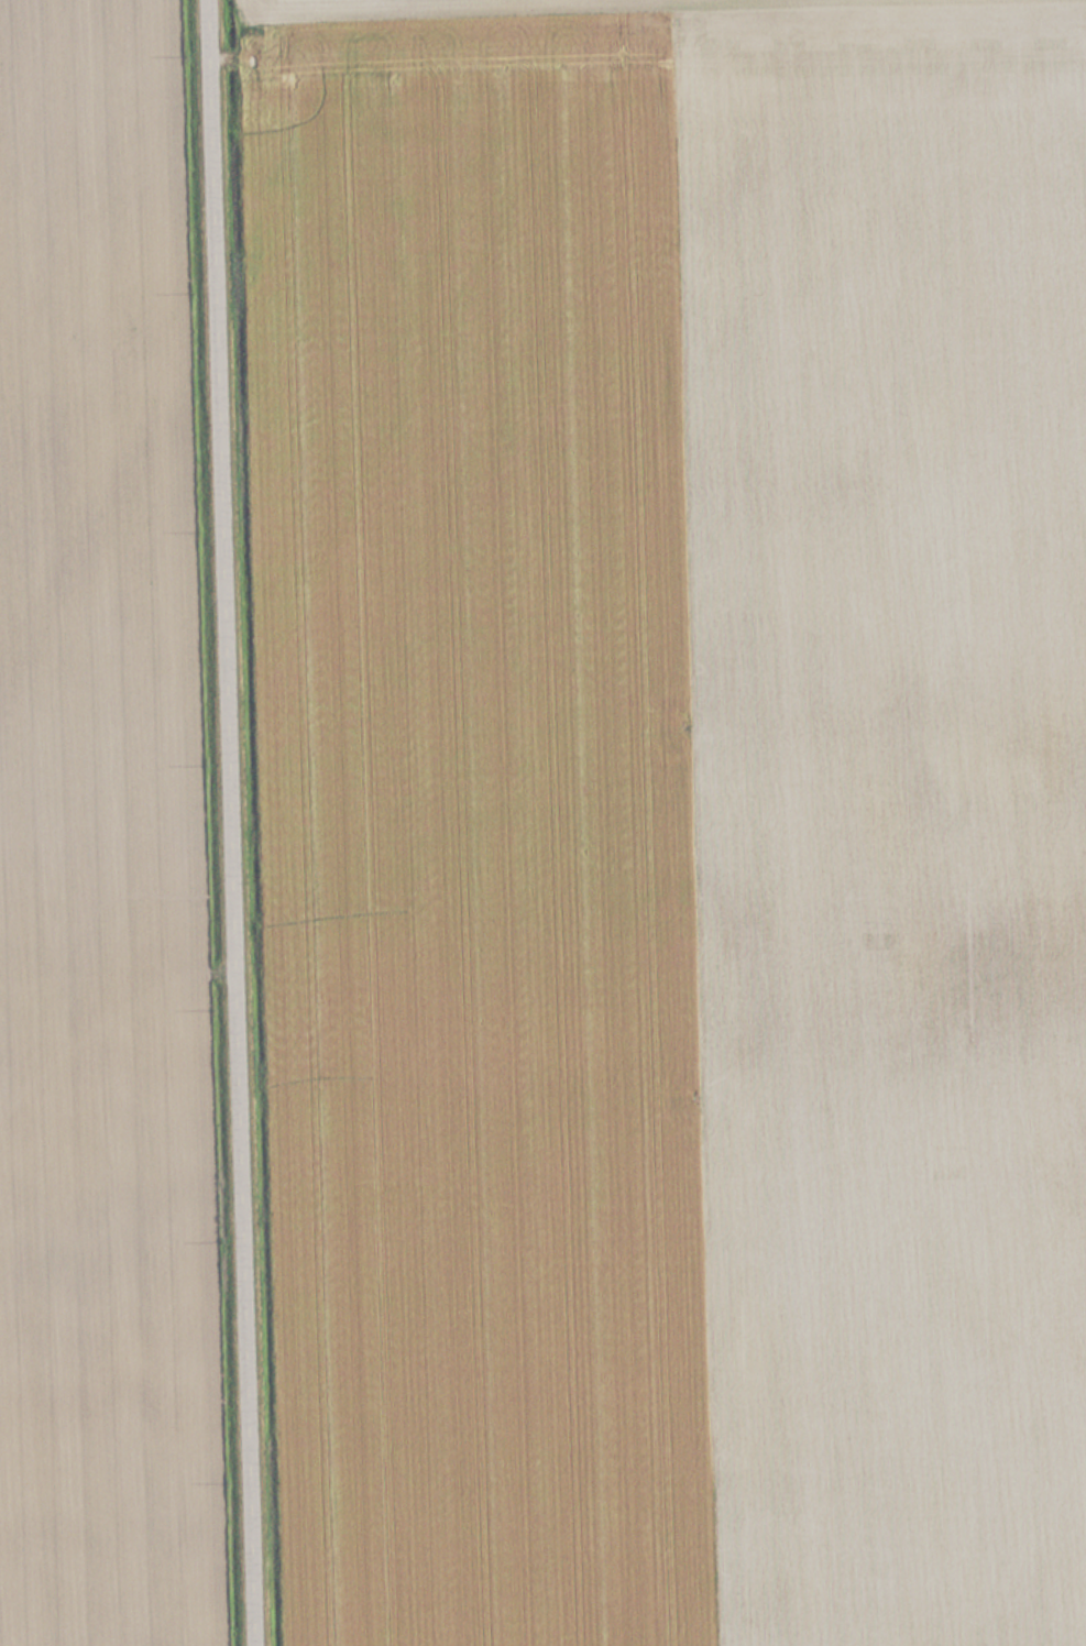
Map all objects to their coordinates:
road: (233, 823)

